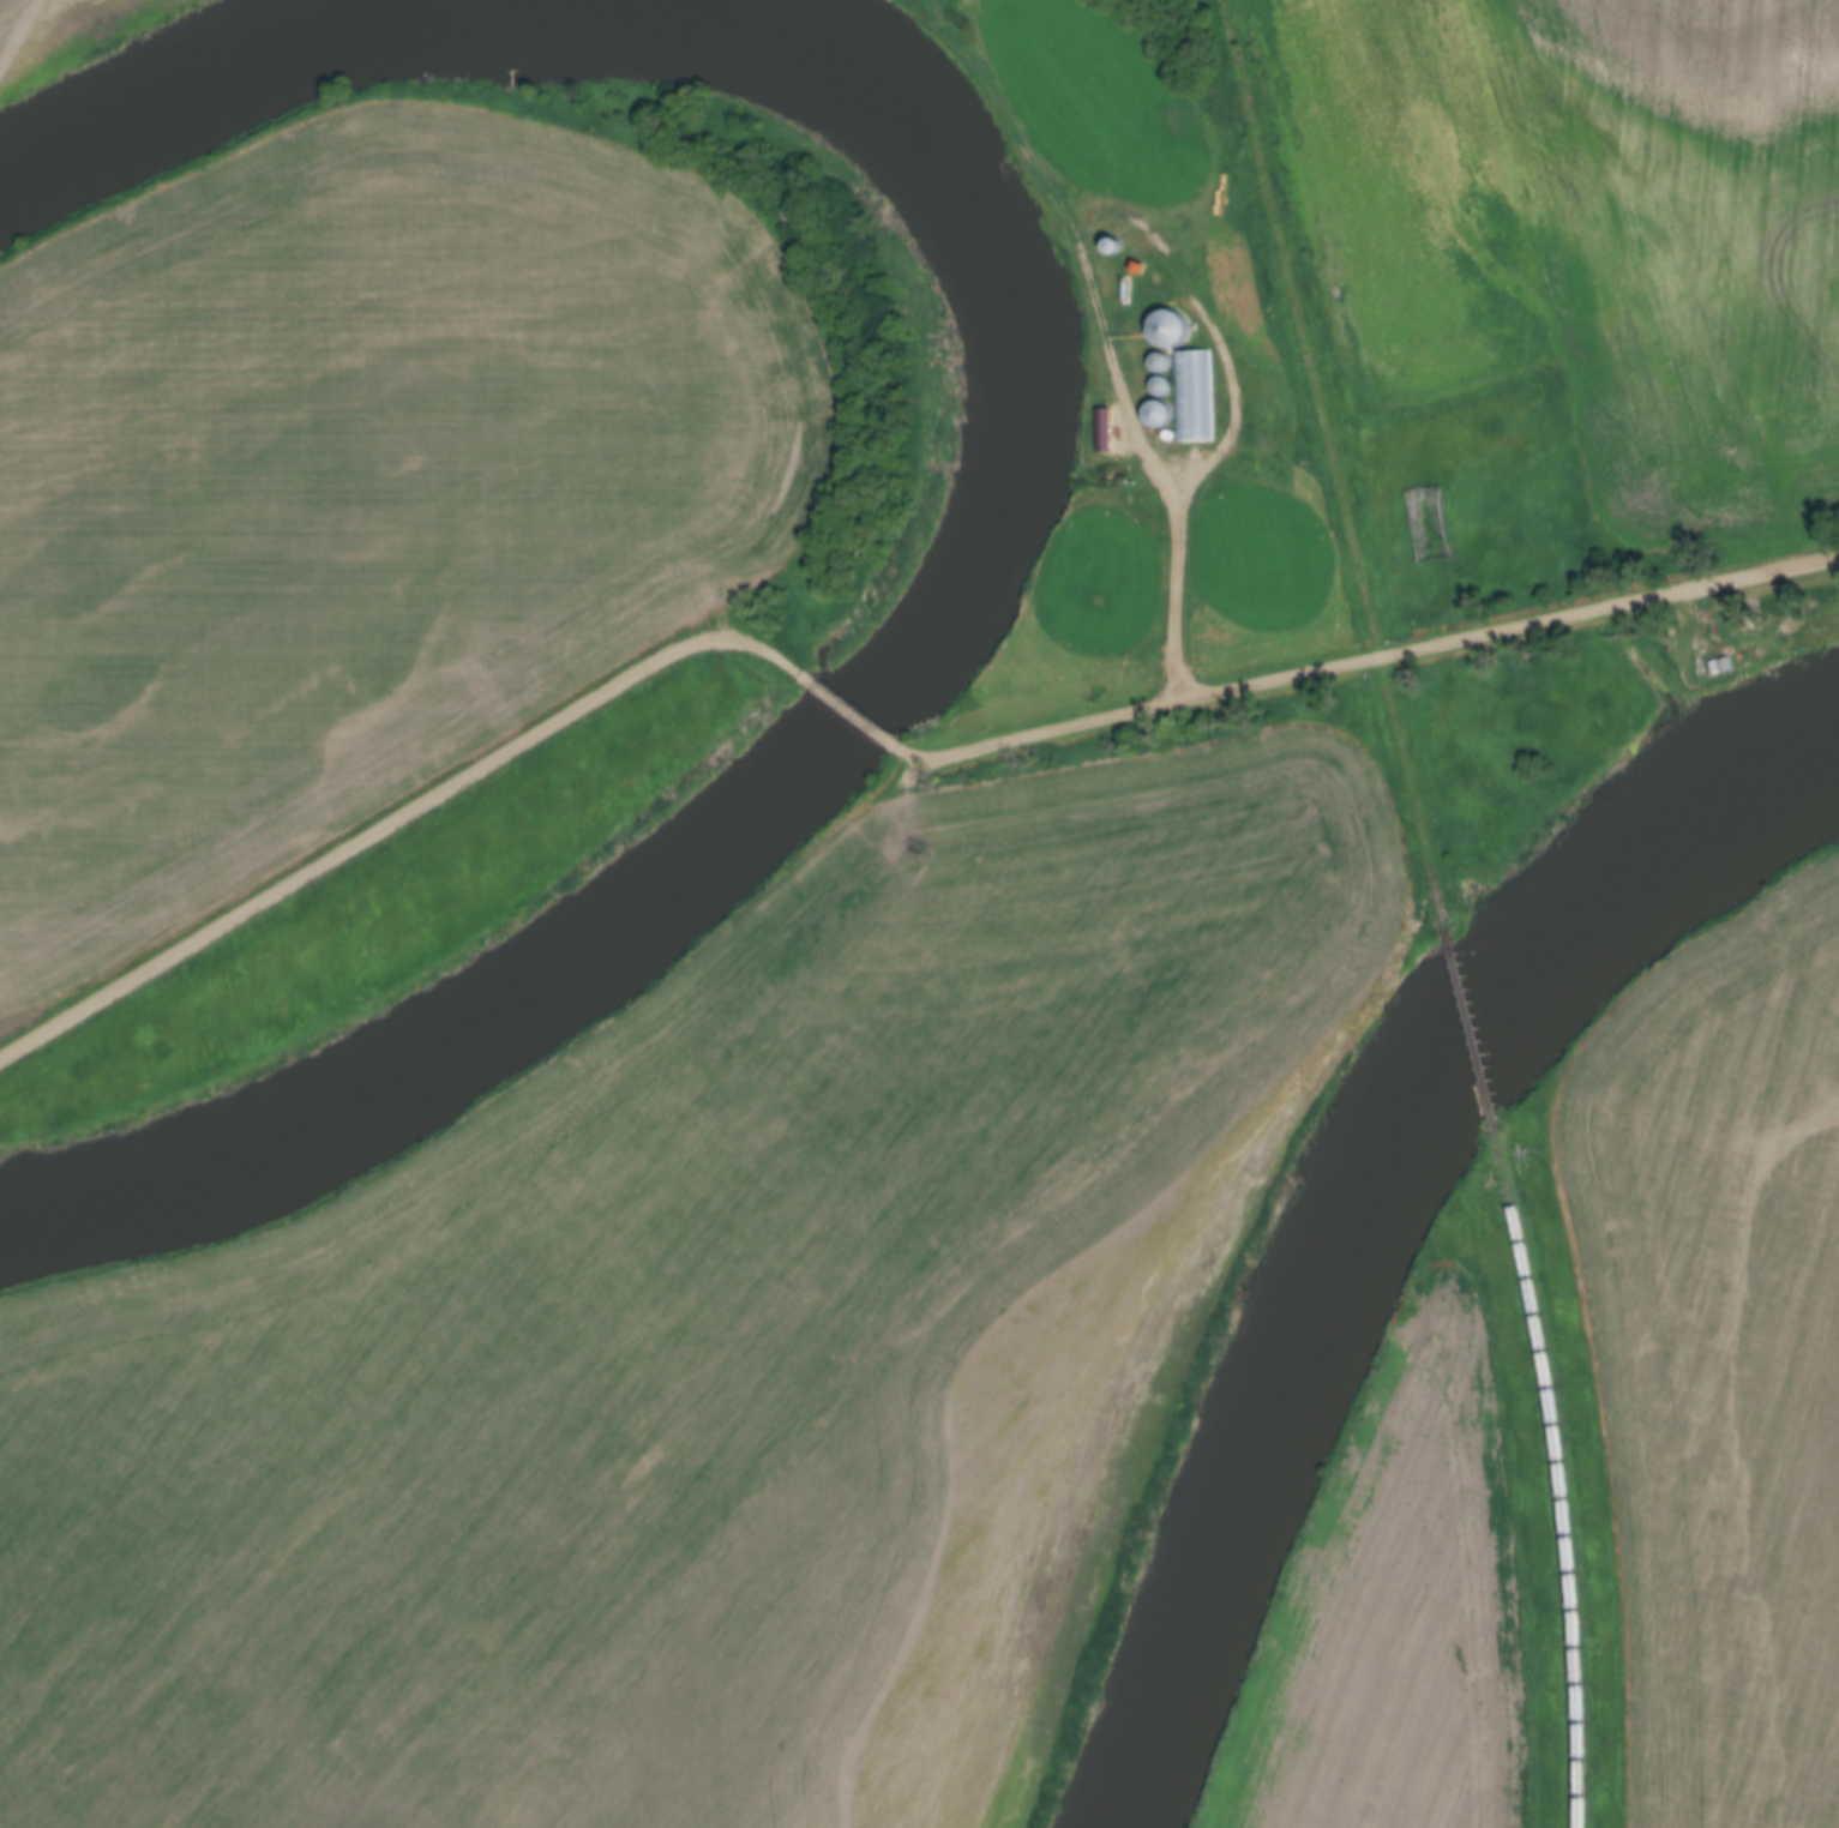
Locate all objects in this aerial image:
river: (232, 85)
building: (1119, 234)
silo: (1119, 234)
road: (1192, 285)
building: (1174, 327)
silo: (1174, 327)
building: (1166, 361)
silo: (1166, 361)
building: (1167, 384)
silo: (1167, 384)
building: (1197, 393)
building: (1164, 413)
silo: (1164, 413)
building: (1173, 433)
silo: (1173, 433)
railway: (1336, 459)
building: (1436, 522)
road: (1370, 659)
road: (859, 710)
river: (824, 765)
road: (404, 816)
railway: (1476, 1026)
river: (1363, 1199)
railway: (1563, 1477)

